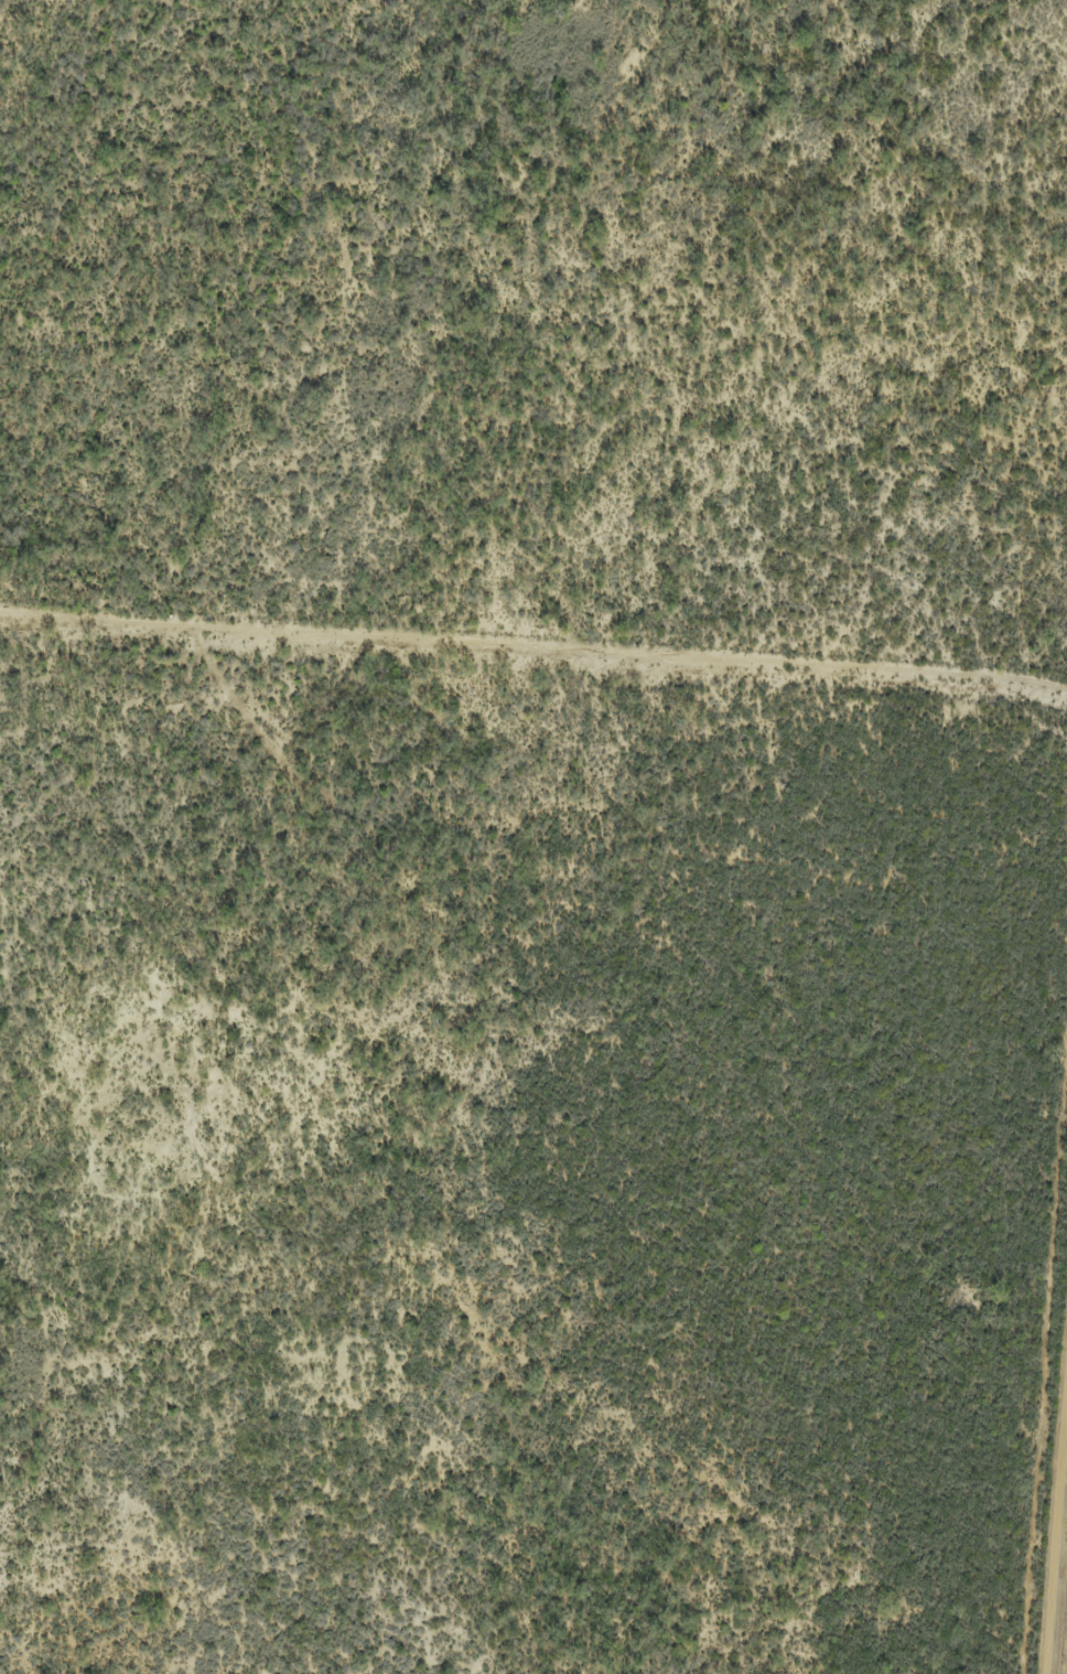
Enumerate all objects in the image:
road: (1065, 1588)
road: (1061, 1605)

